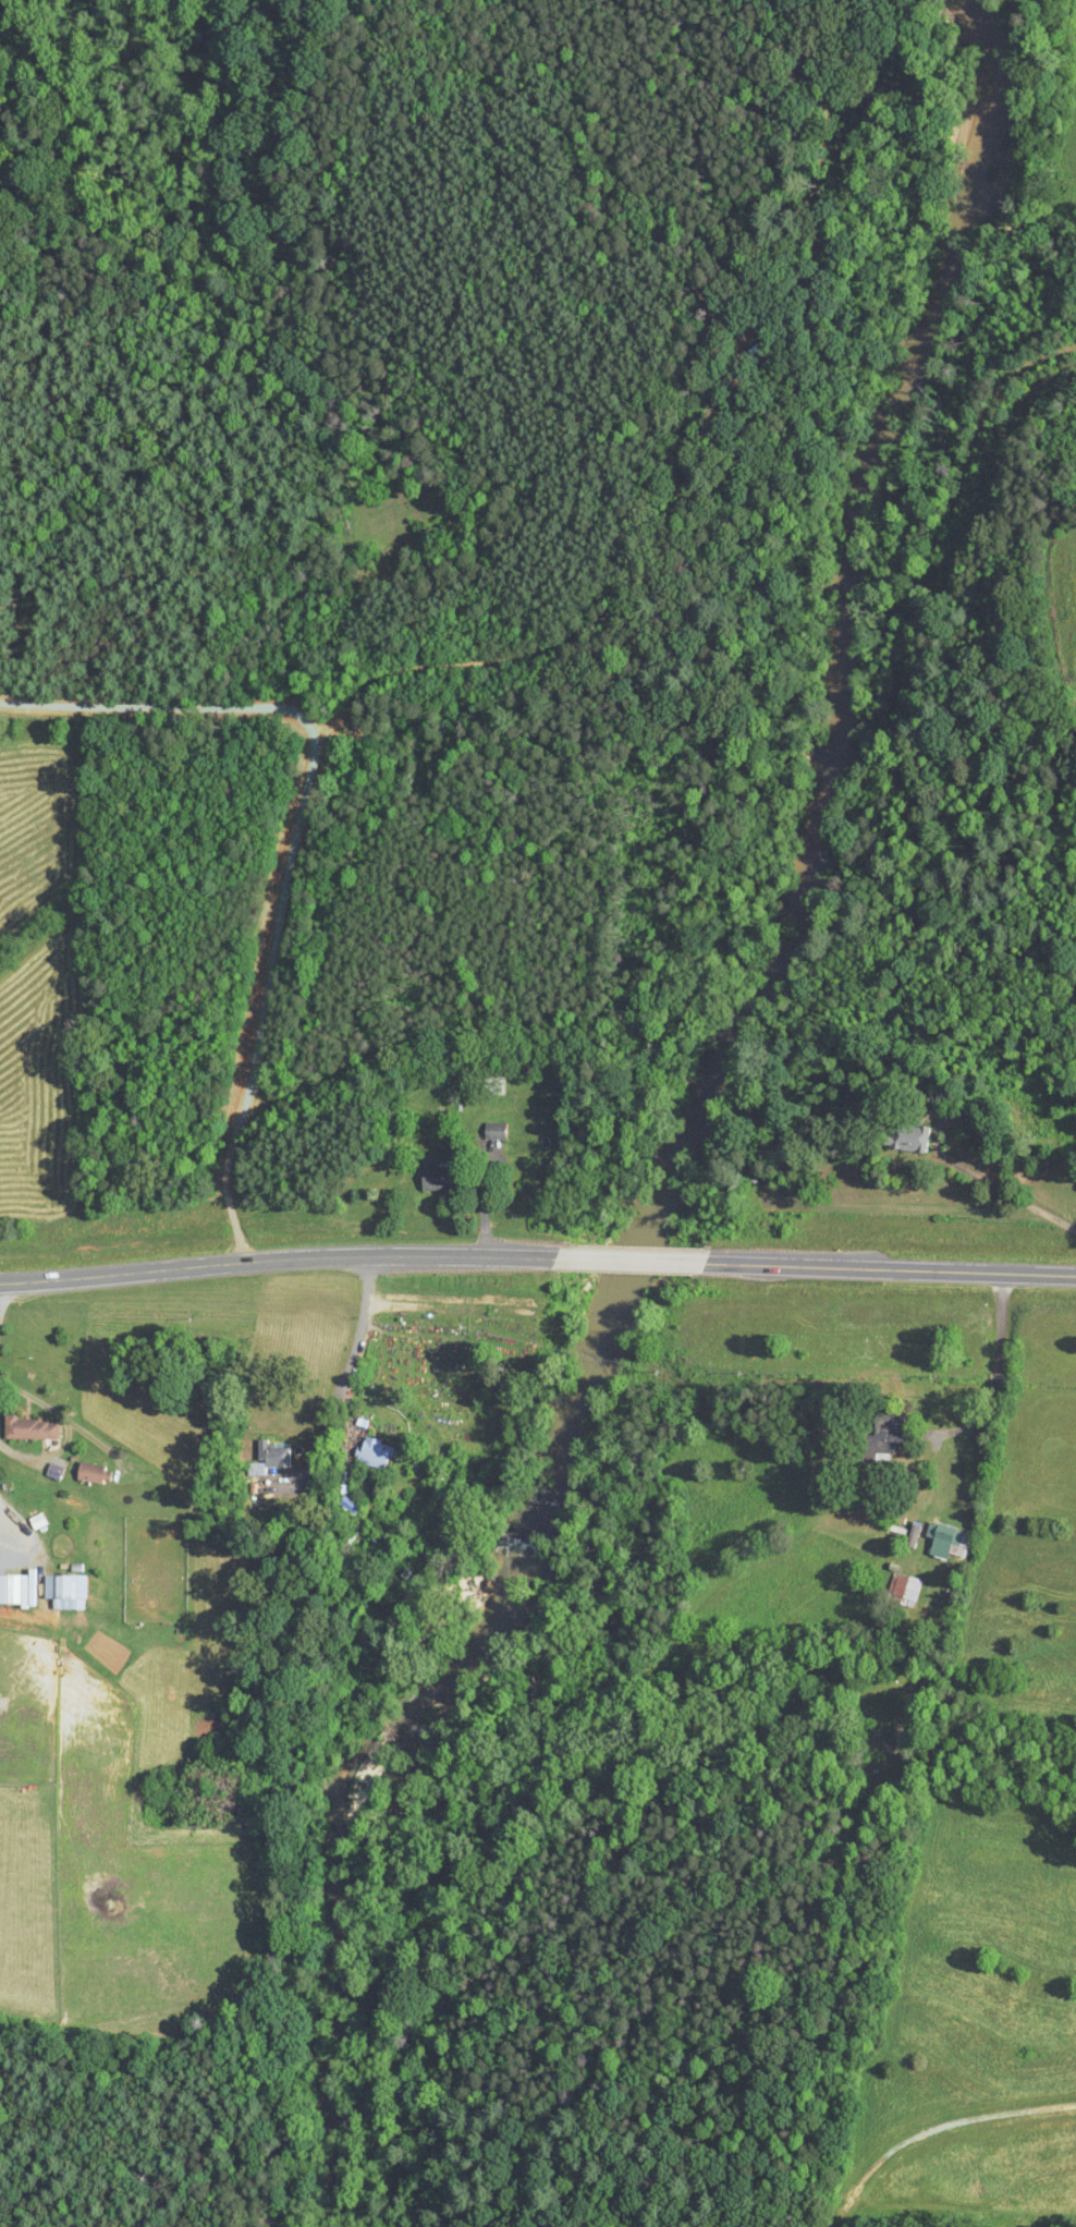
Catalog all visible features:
road: (295, 840)
river: (819, 872)
building: (491, 1085)
building: (491, 1132)
building: (908, 1136)
building: (432, 1177)
building: (768, 1183)
road: (274, 1259)
road: (626, 1261)
road: (889, 1268)
road: (346, 1370)
road: (68, 1428)
building: (28, 1429)
building: (880, 1443)
building: (372, 1455)
building: (267, 1458)
building: (89, 1473)
building: (439, 1478)
building: (266, 1492)
building: (344, 1502)
road: (7, 1525)
building: (946, 1544)
building: (902, 1591)
building: (40, 1592)
river: (432, 1732)
river: (382, 1854)
river: (335, 2073)

